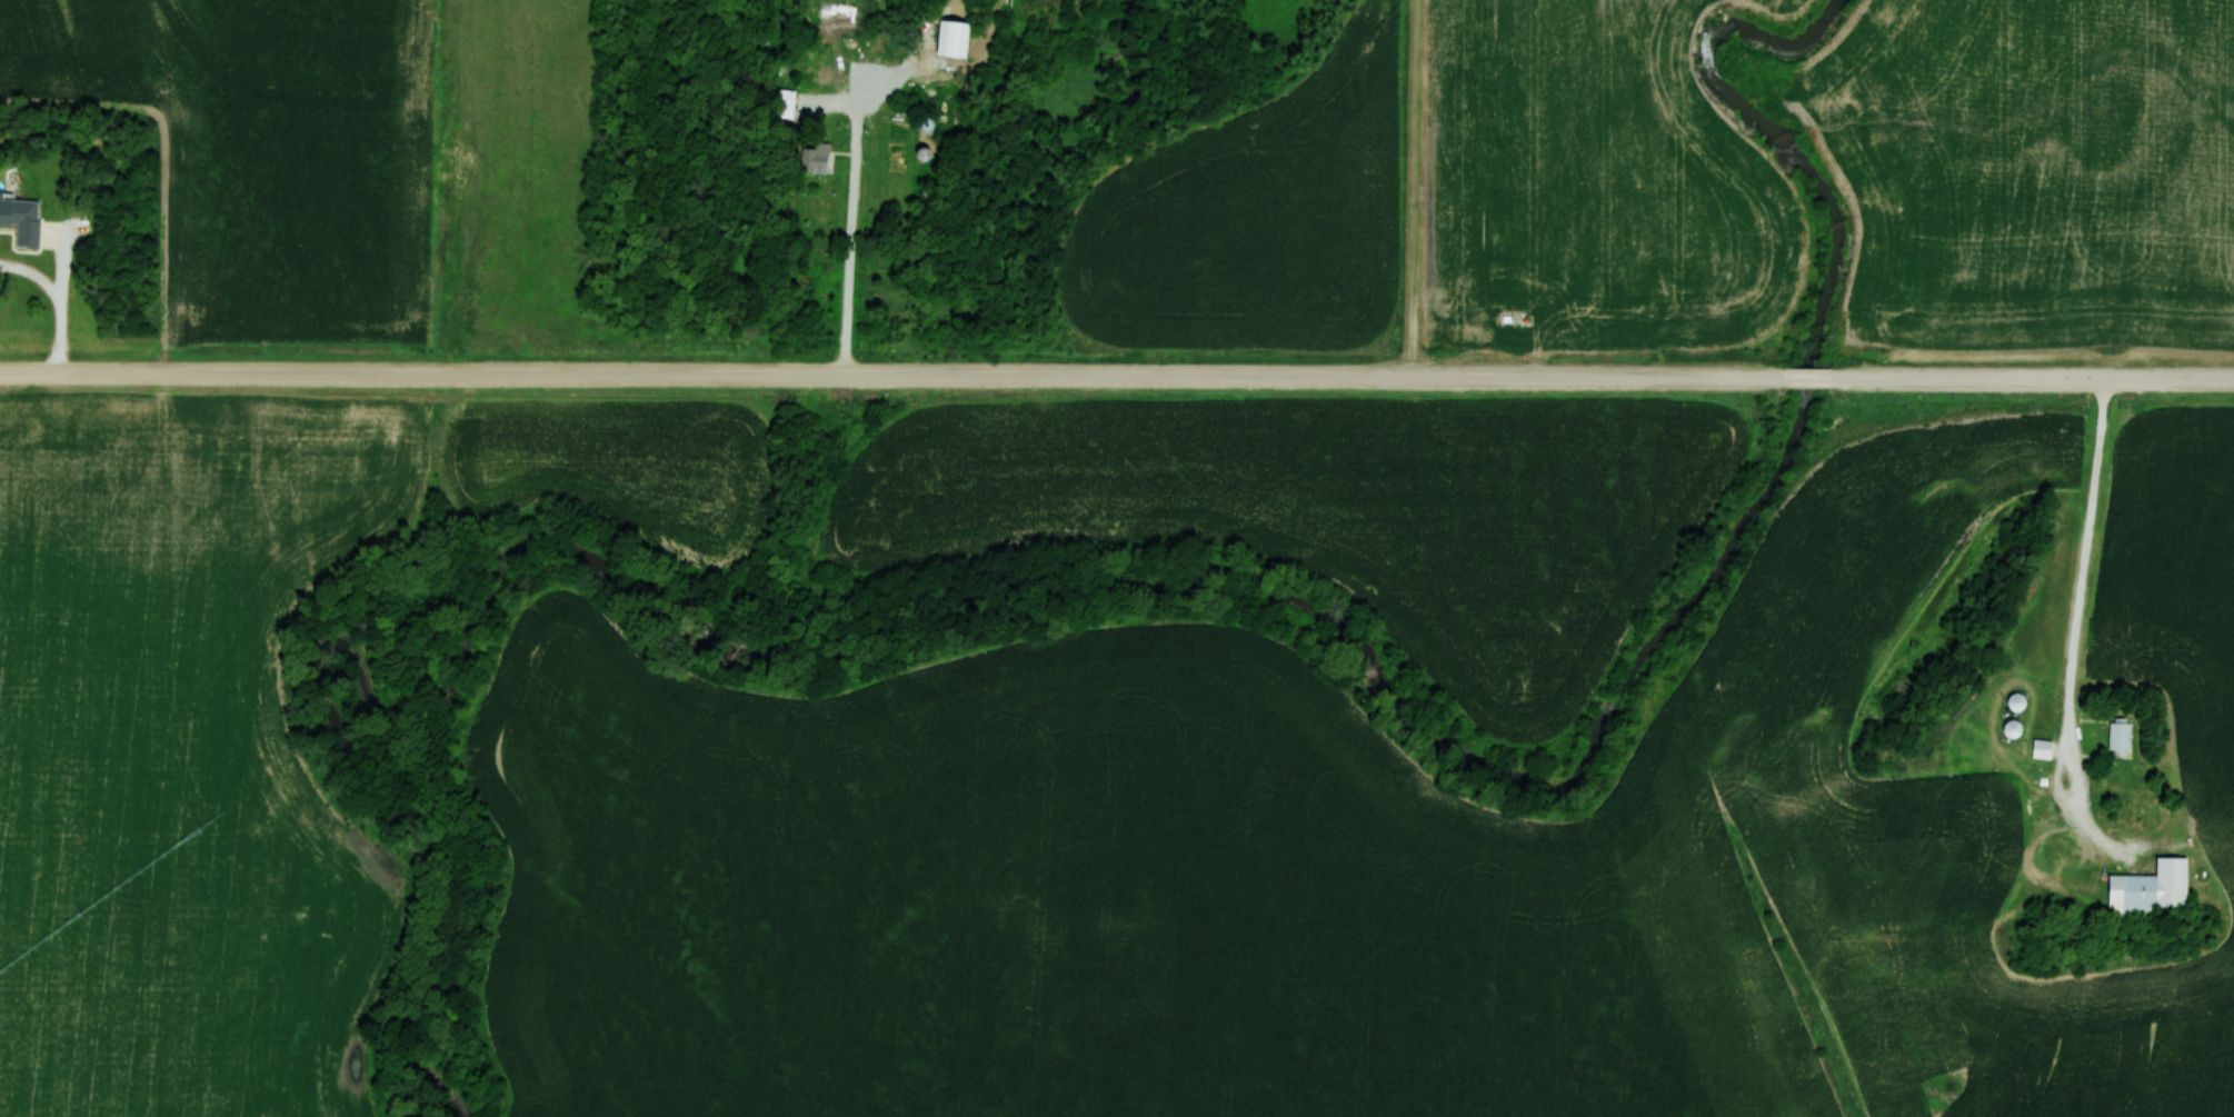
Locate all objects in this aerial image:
building: (950, 39)
building: (784, 99)
building: (814, 157)
road: (1417, 189)
road: (854, 241)
road: (894, 378)
road: (1809, 379)
road: (2031, 380)
building: (2015, 701)
building: (2011, 729)
building: (2118, 736)
road: (2070, 745)
building: (2041, 749)
building: (2146, 890)

